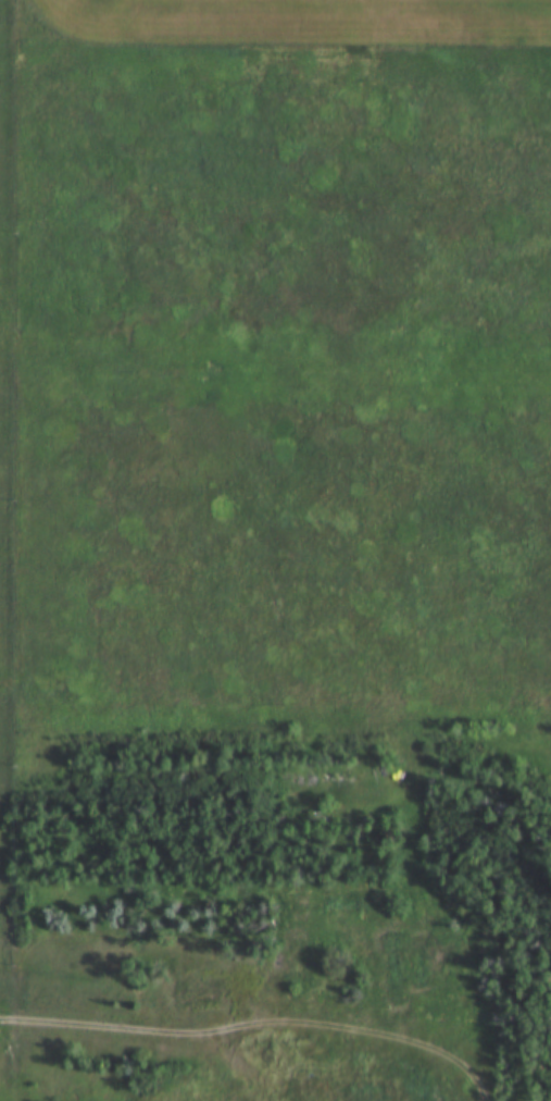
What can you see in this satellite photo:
building: (442, 957)
building: (195, 992)
road: (153, 1030)
road: (234, 1056)

